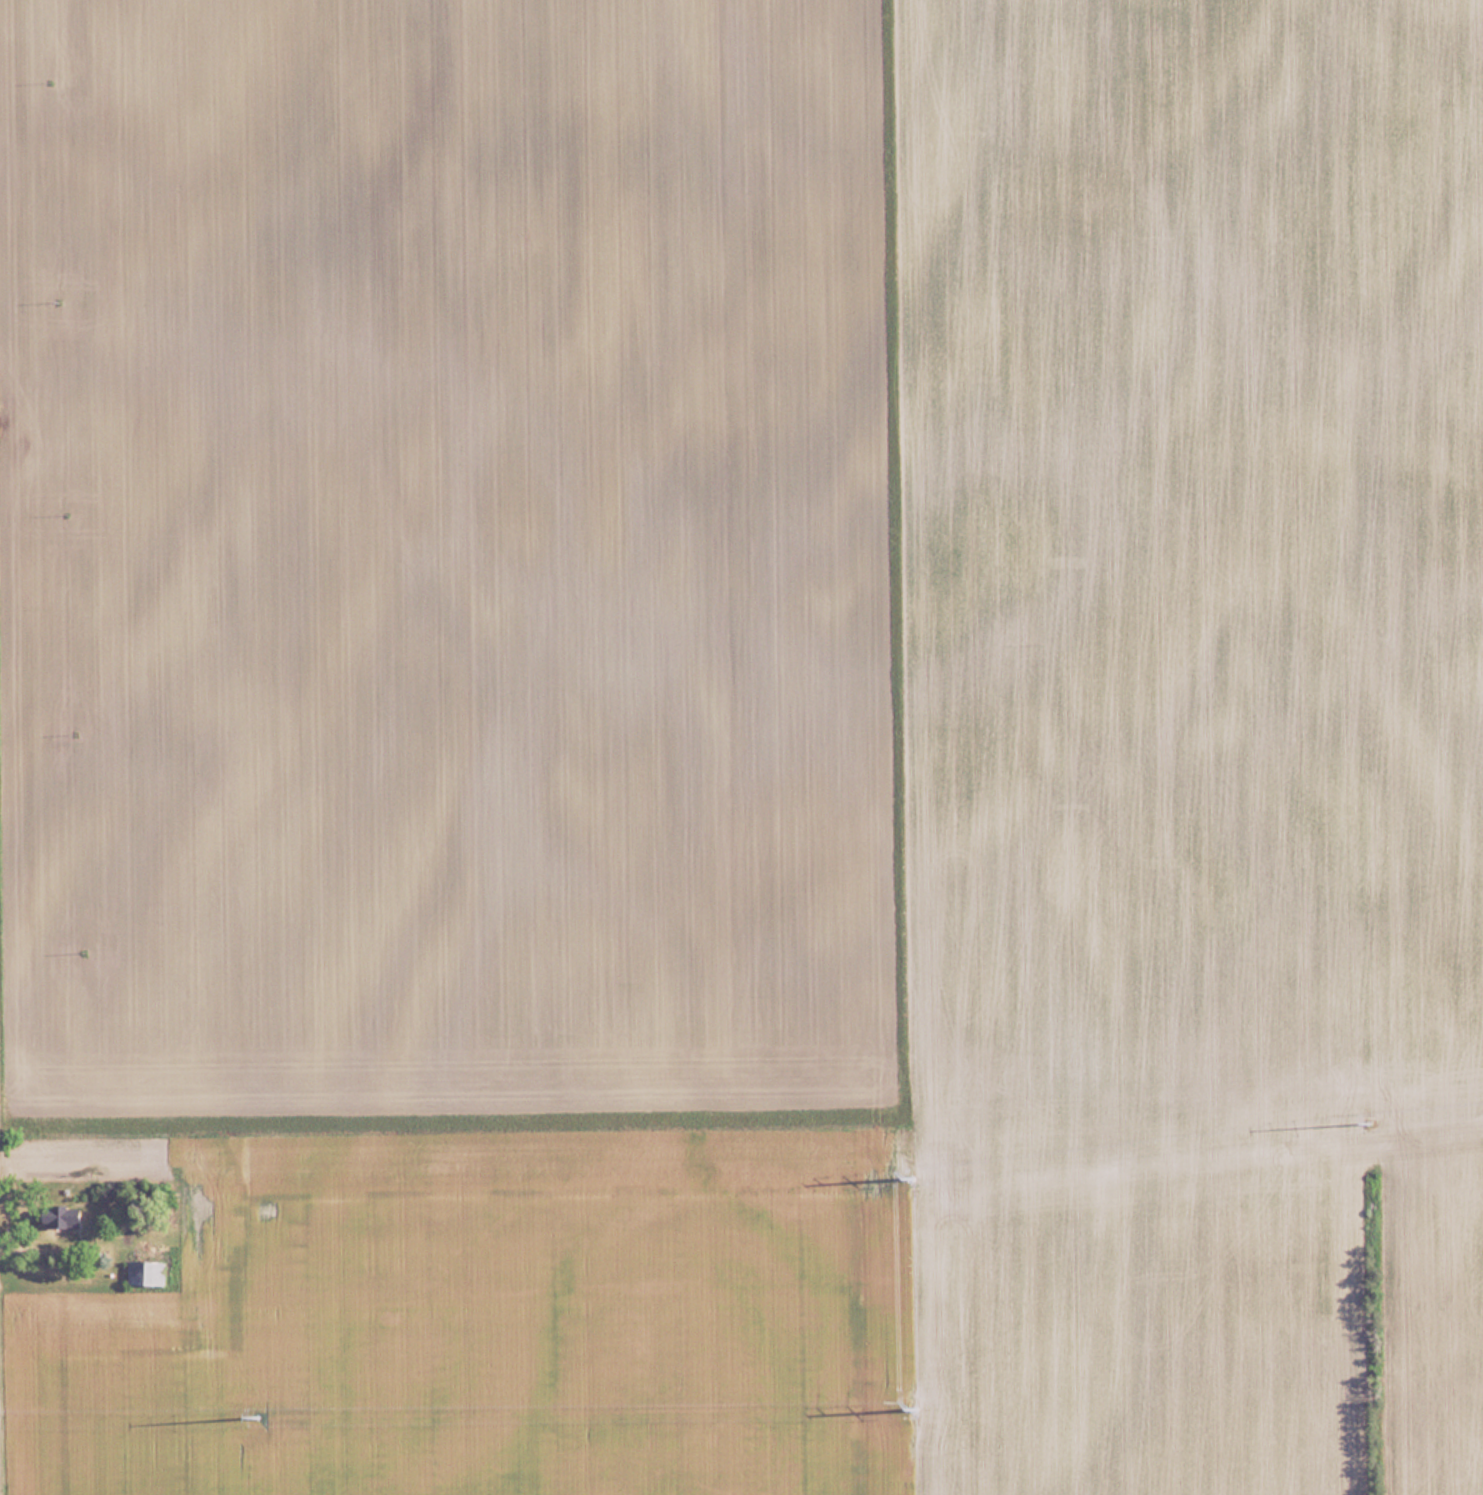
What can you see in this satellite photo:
building: (63, 1216)
building: (146, 1272)

